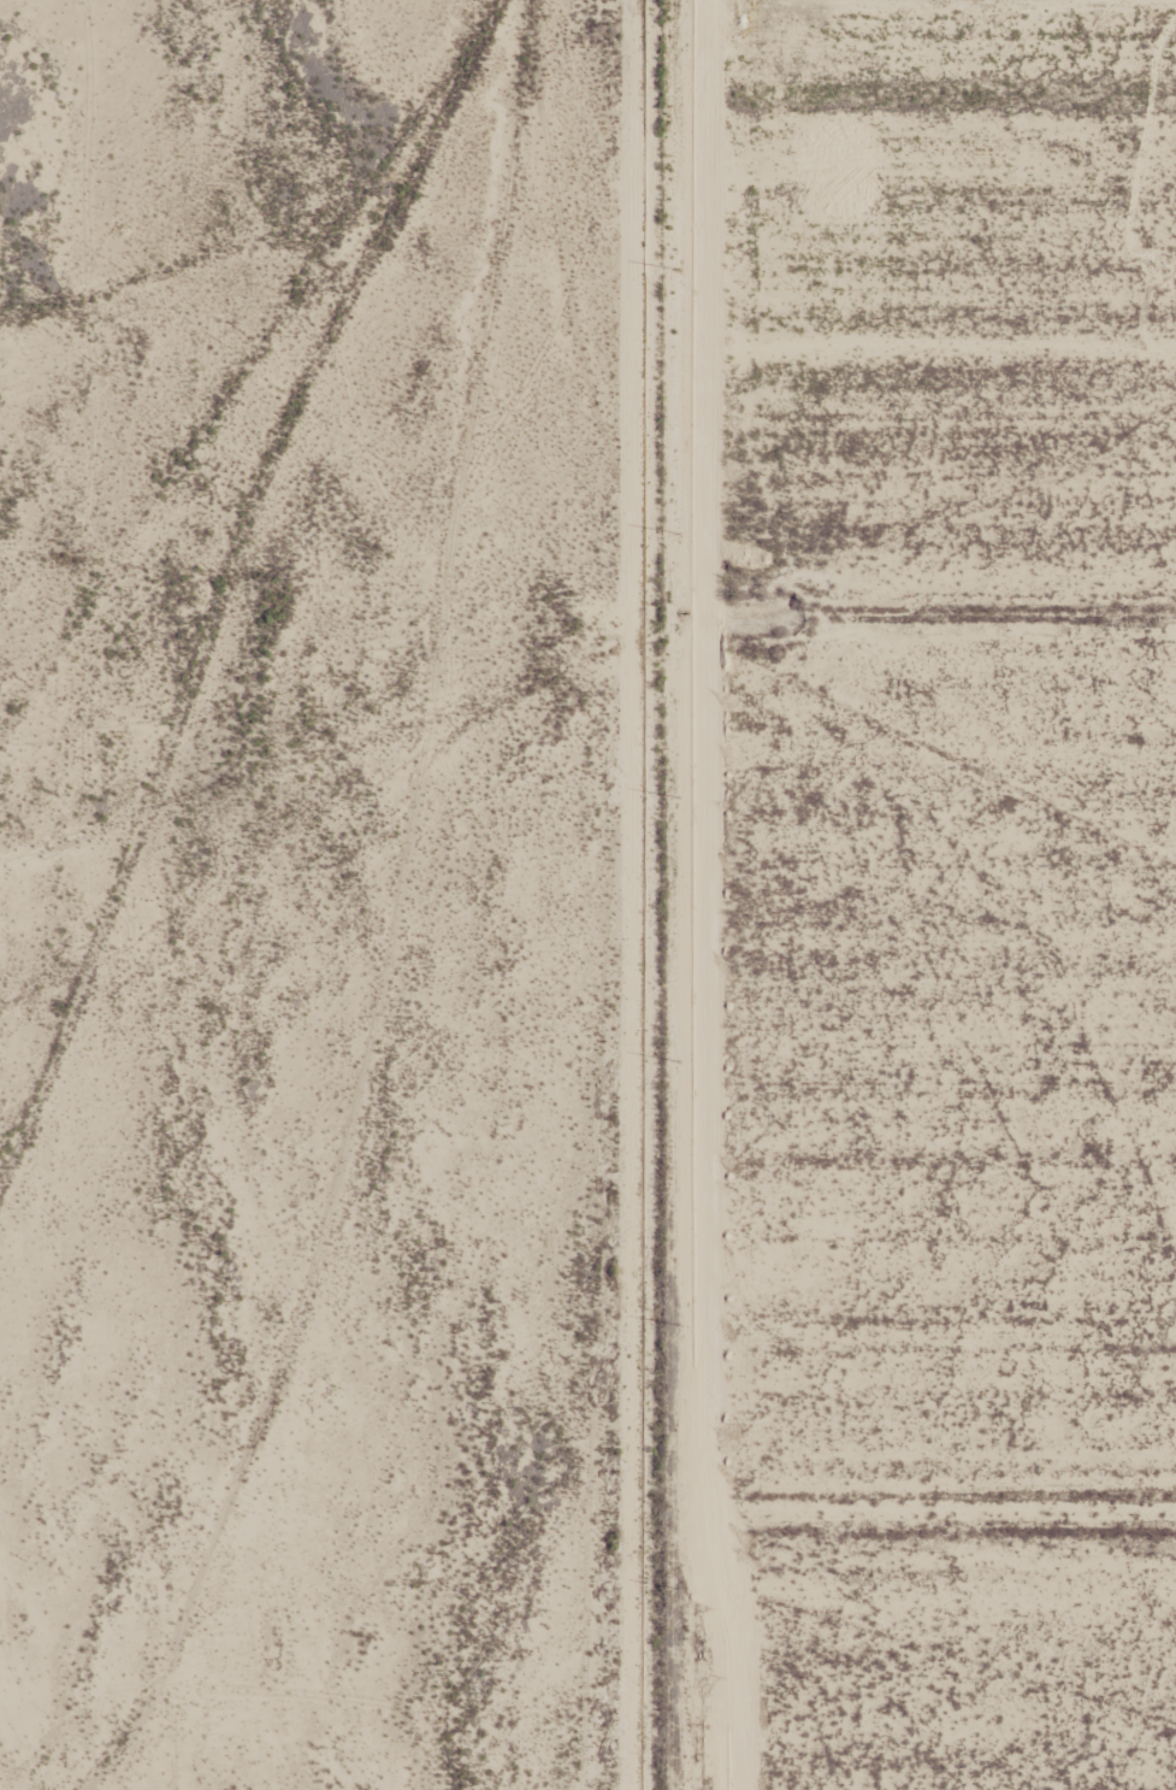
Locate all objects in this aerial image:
road: (220, 563)

